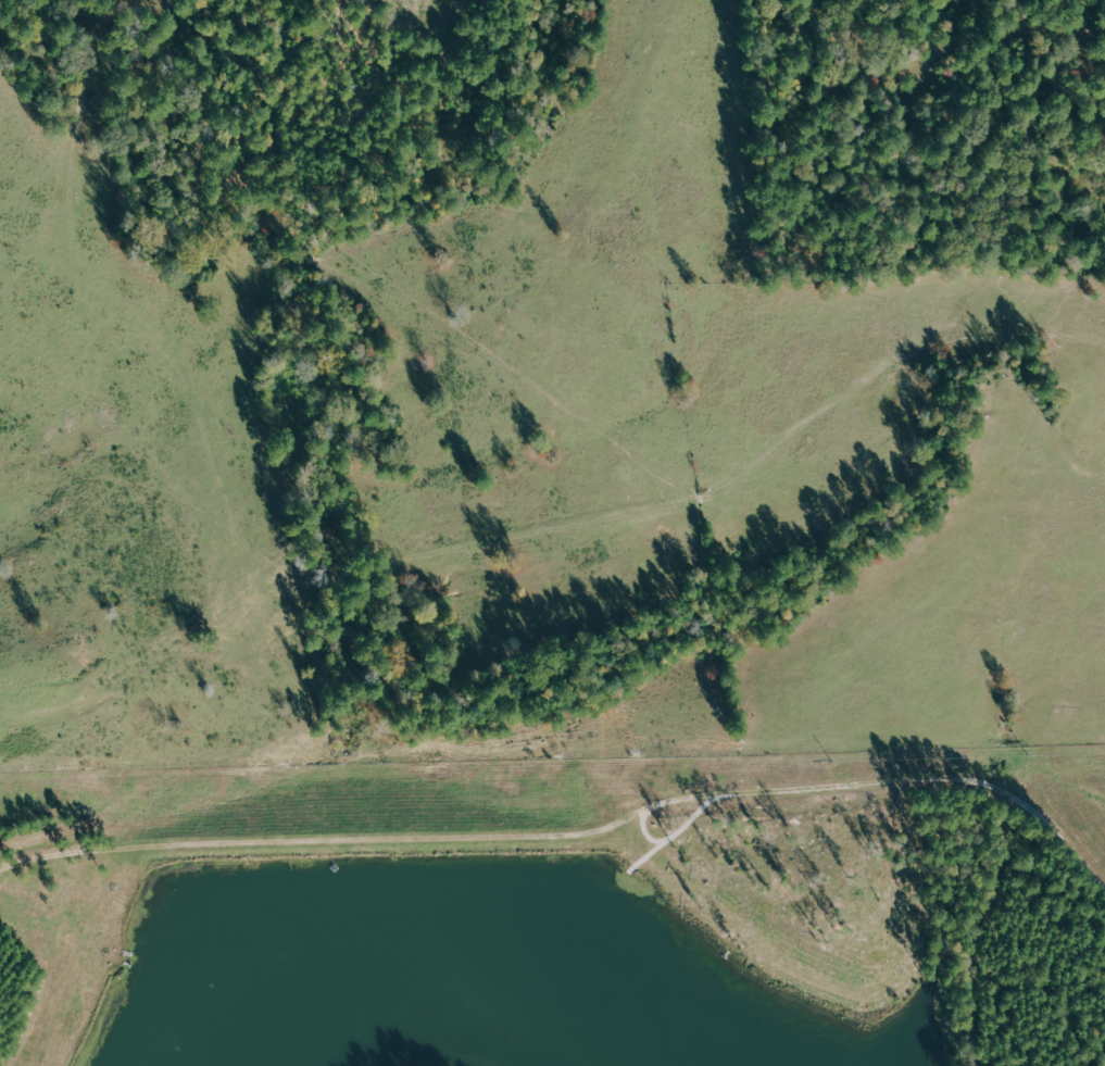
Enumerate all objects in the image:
road: (579, 836)

